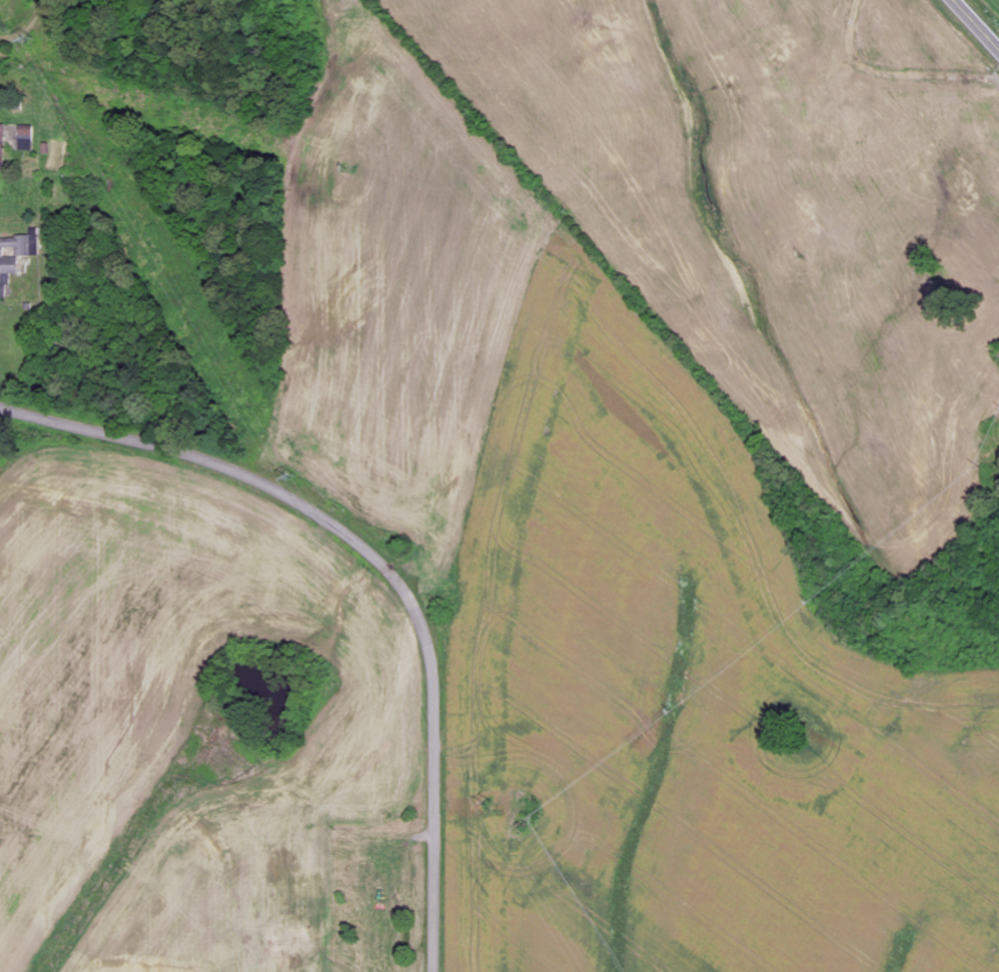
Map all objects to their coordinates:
road: (977, 23)
building: (27, 138)
building: (2, 146)
building: (15, 255)
road: (382, 565)

